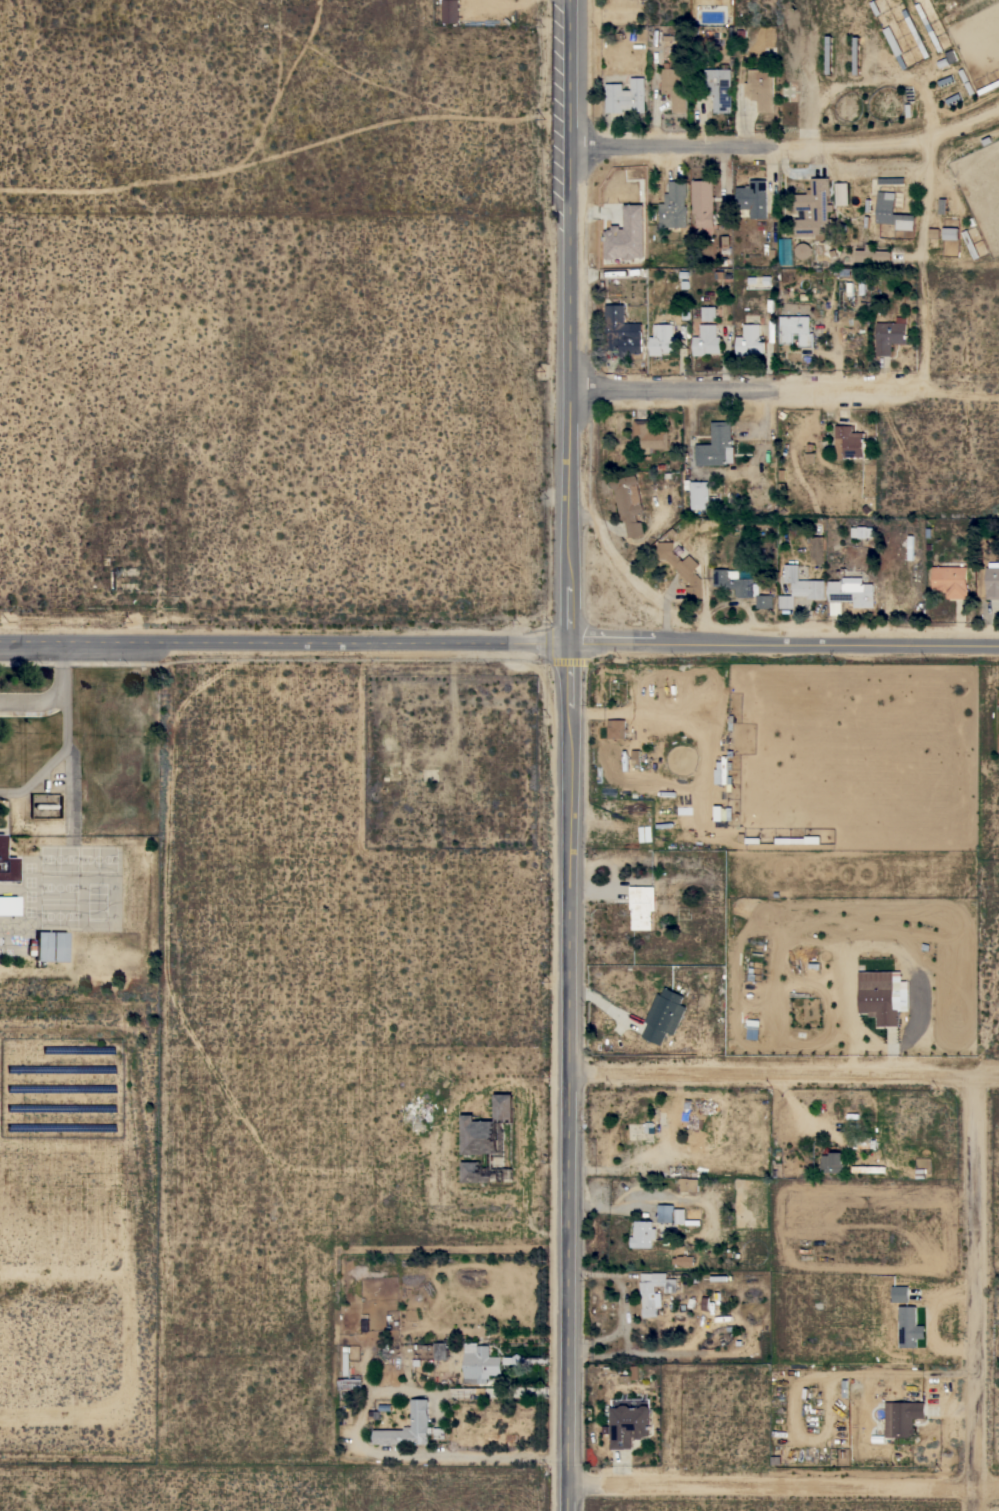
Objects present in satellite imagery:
building: (450, 11)
building: (928, 26)
building: (917, 37)
building: (894, 45)
building: (827, 55)
building: (856, 55)
building: (675, 87)
building: (719, 88)
building: (760, 88)
building: (625, 96)
road: (964, 125)
road: (862, 145)
road: (683, 150)
building: (885, 181)
building: (841, 193)
building: (753, 199)
building: (703, 202)
building: (674, 205)
building: (814, 210)
building: (891, 212)
building: (950, 233)
building: (626, 235)
building: (970, 244)
building: (803, 250)
building: (784, 251)
building: (873, 255)
building: (708, 313)
road: (570, 322)
building: (796, 330)
building: (621, 332)
building: (890, 335)
building: (663, 340)
building: (706, 340)
building: (750, 340)
road: (865, 390)
building: (650, 436)
building: (848, 442)
building: (716, 445)
building: (700, 495)
building: (628, 504)
building: (703, 530)
building: (862, 532)
building: (817, 549)
building: (682, 568)
building: (950, 581)
building: (992, 581)
building: (741, 586)
building: (799, 587)
building: (852, 591)
road: (283, 645)
road: (624, 645)
road: (839, 646)
building: (617, 729)
building: (637, 757)
building: (431, 772)
building: (6, 864)
building: (9, 905)
building: (642, 906)
building: (42, 946)
building: (59, 946)
building: (878, 1001)
building: (664, 1016)
building: (752, 1030)
road: (566, 1077)
road: (782, 1081)
building: (687, 1109)
building: (645, 1126)
building: (485, 1127)
building: (859, 1142)
building: (832, 1162)
building: (868, 1169)
building: (474, 1172)
building: (687, 1184)
building: (662, 1211)
building: (683, 1216)
building: (643, 1234)
building: (683, 1260)
building: (654, 1291)
building: (897, 1294)
road: (972, 1297)
building: (907, 1327)
building: (439, 1351)
building: (346, 1359)
building: (524, 1360)
building: (479, 1363)
building: (350, 1383)
building: (902, 1418)
building: (628, 1425)
building: (408, 1427)
road: (782, 1493)

